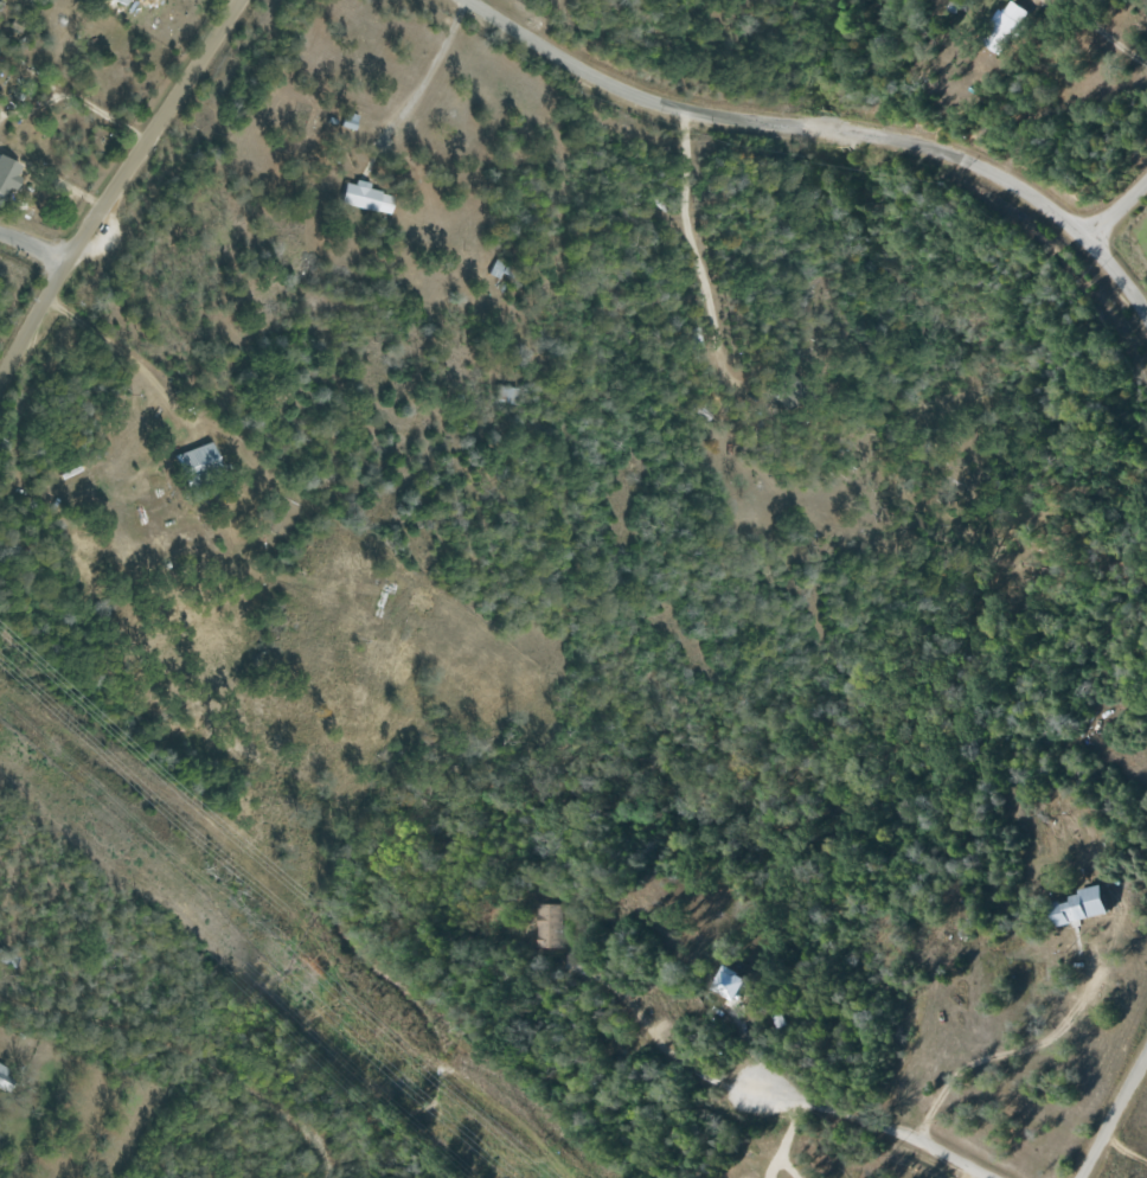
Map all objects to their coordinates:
building: (123, 1)
building: (1001, 27)
road: (1098, 32)
road: (427, 62)
road: (824, 130)
building: (8, 175)
road: (117, 187)
building: (366, 197)
road: (1115, 209)
road: (692, 243)
road: (31, 251)
road: (1136, 283)
road: (122, 351)
building: (197, 462)
building: (1091, 905)
building: (550, 926)
building: (737, 982)
road: (188, 1056)
road: (1002, 1057)
building: (5, 1081)
road: (1110, 1113)
road: (871, 1125)

